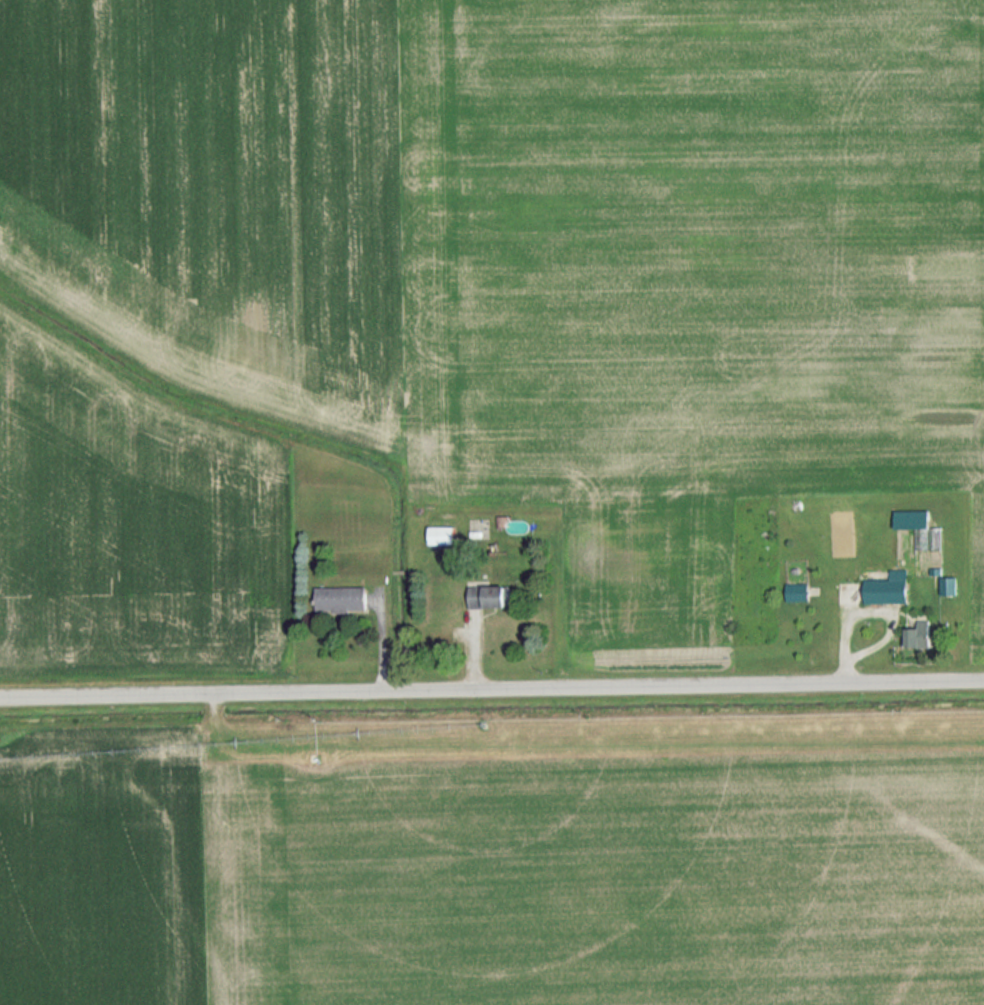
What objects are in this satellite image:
building: (916, 525)
building: (440, 536)
building: (948, 586)
building: (887, 589)
building: (795, 593)
building: (488, 597)
building: (340, 600)
building: (918, 636)
road: (491, 687)

